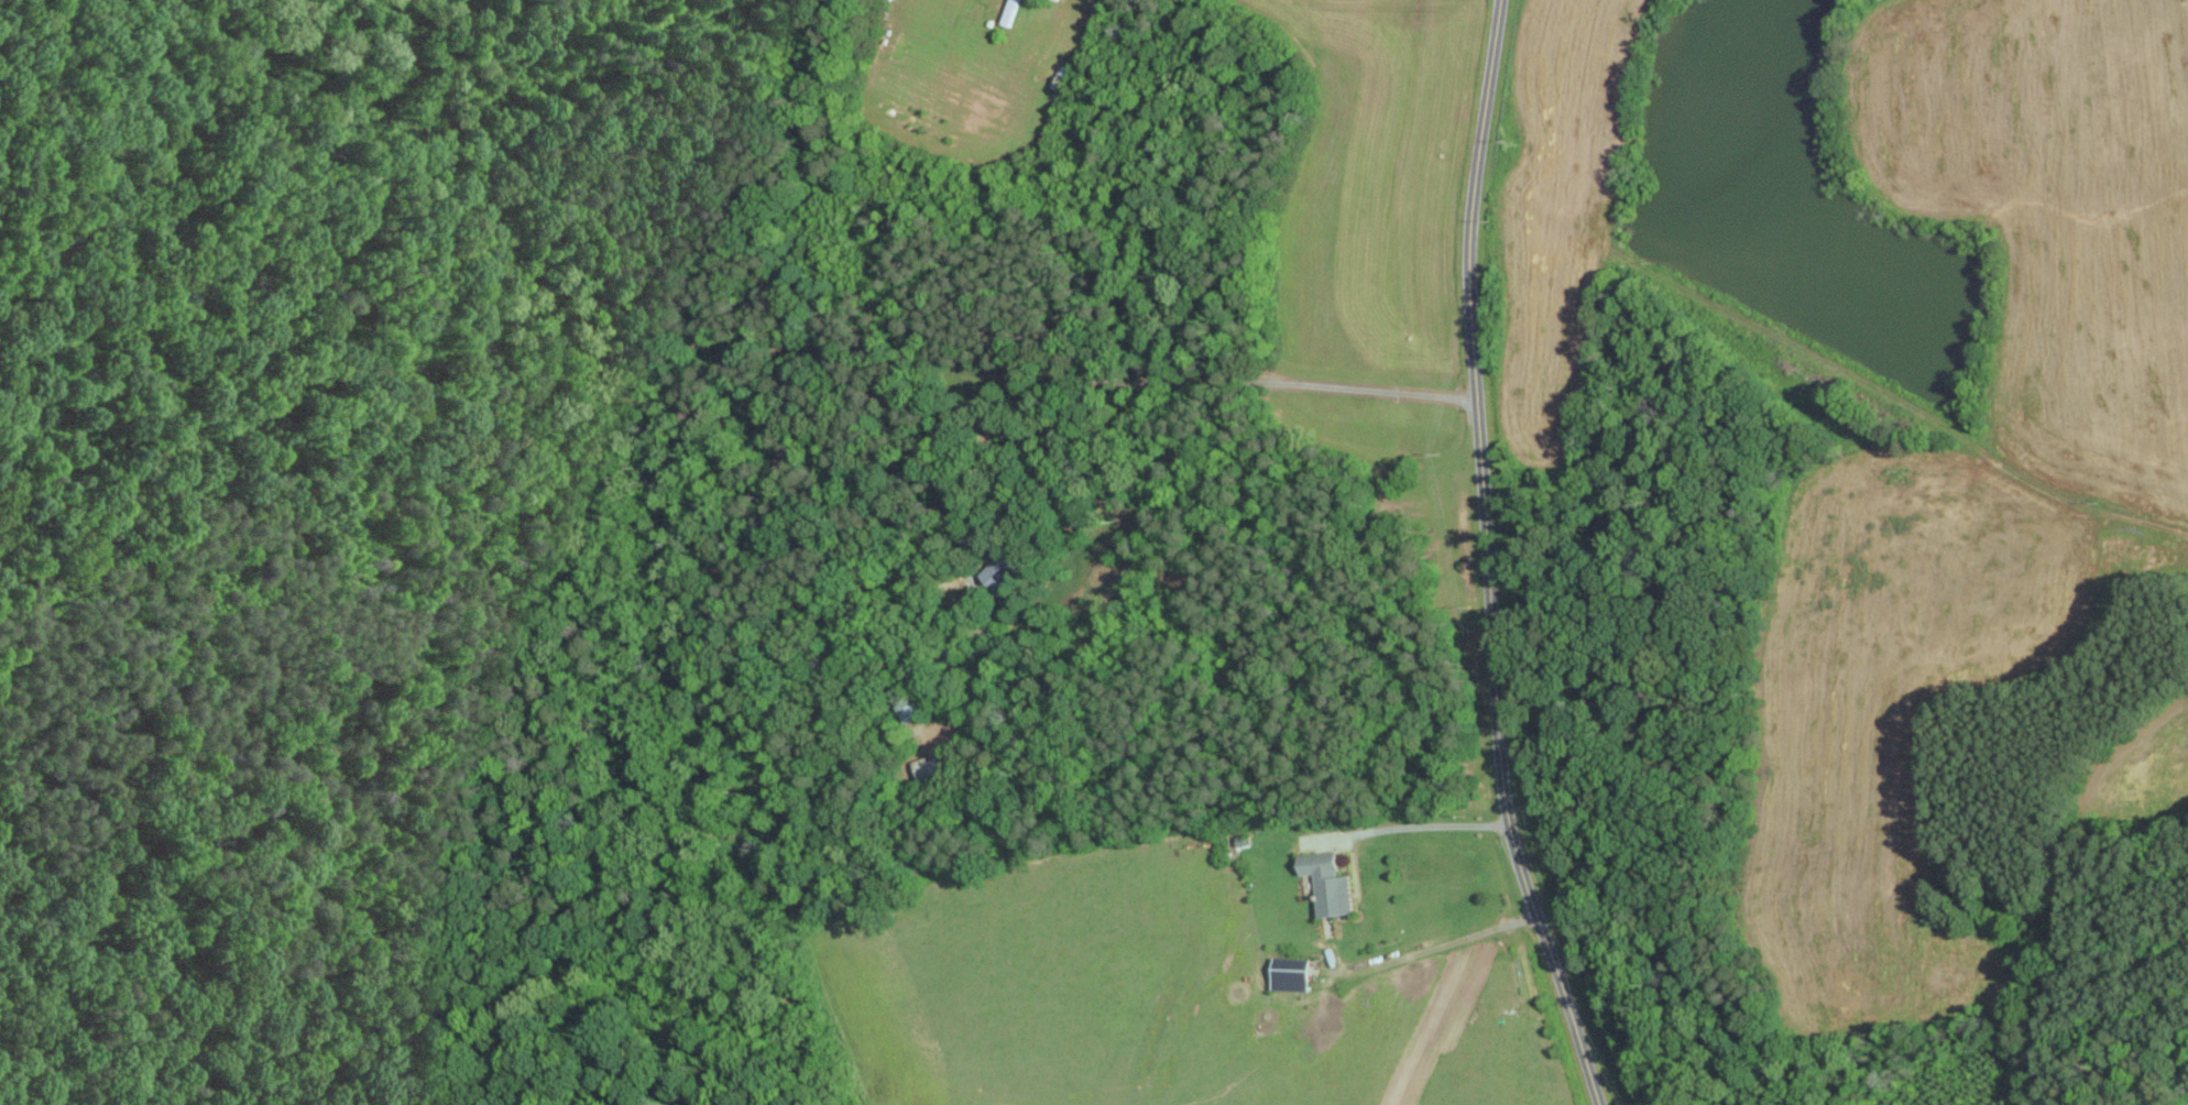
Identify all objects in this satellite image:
road: (1188, 382)
road: (2148, 525)
building: (2118, 549)
road: (1487, 558)
building: (1000, 569)
road: (1427, 823)
building: (1328, 883)
road: (1438, 945)
building: (1291, 973)

